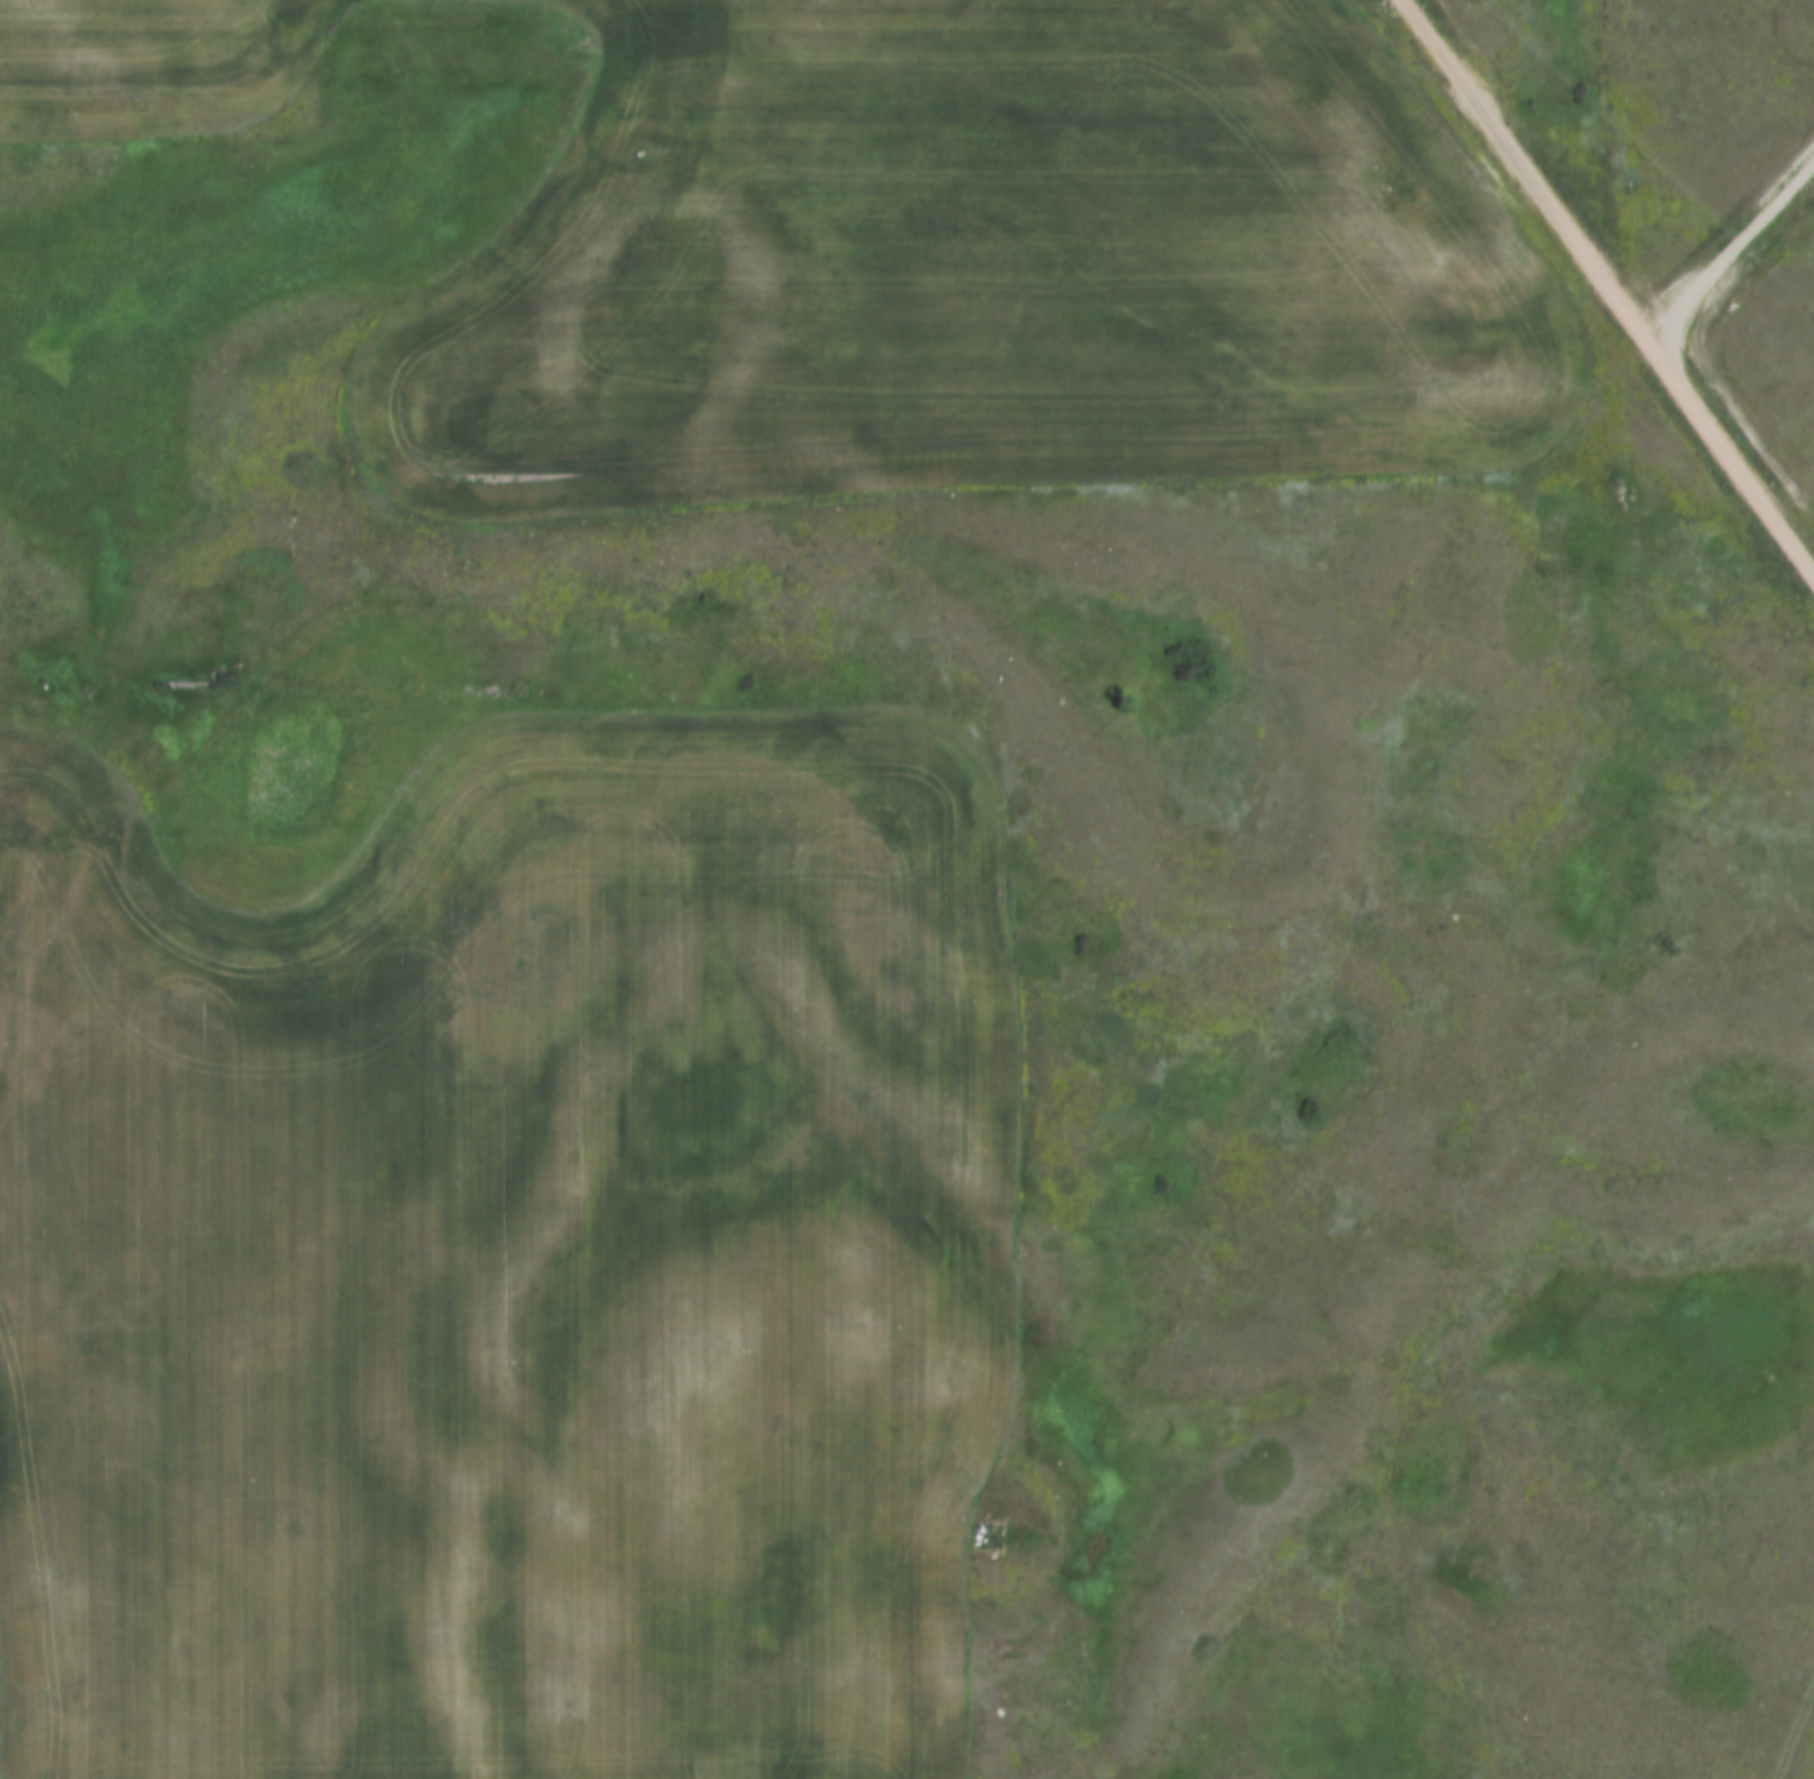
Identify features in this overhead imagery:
road: (1614, 368)
road: (1810, 1738)

